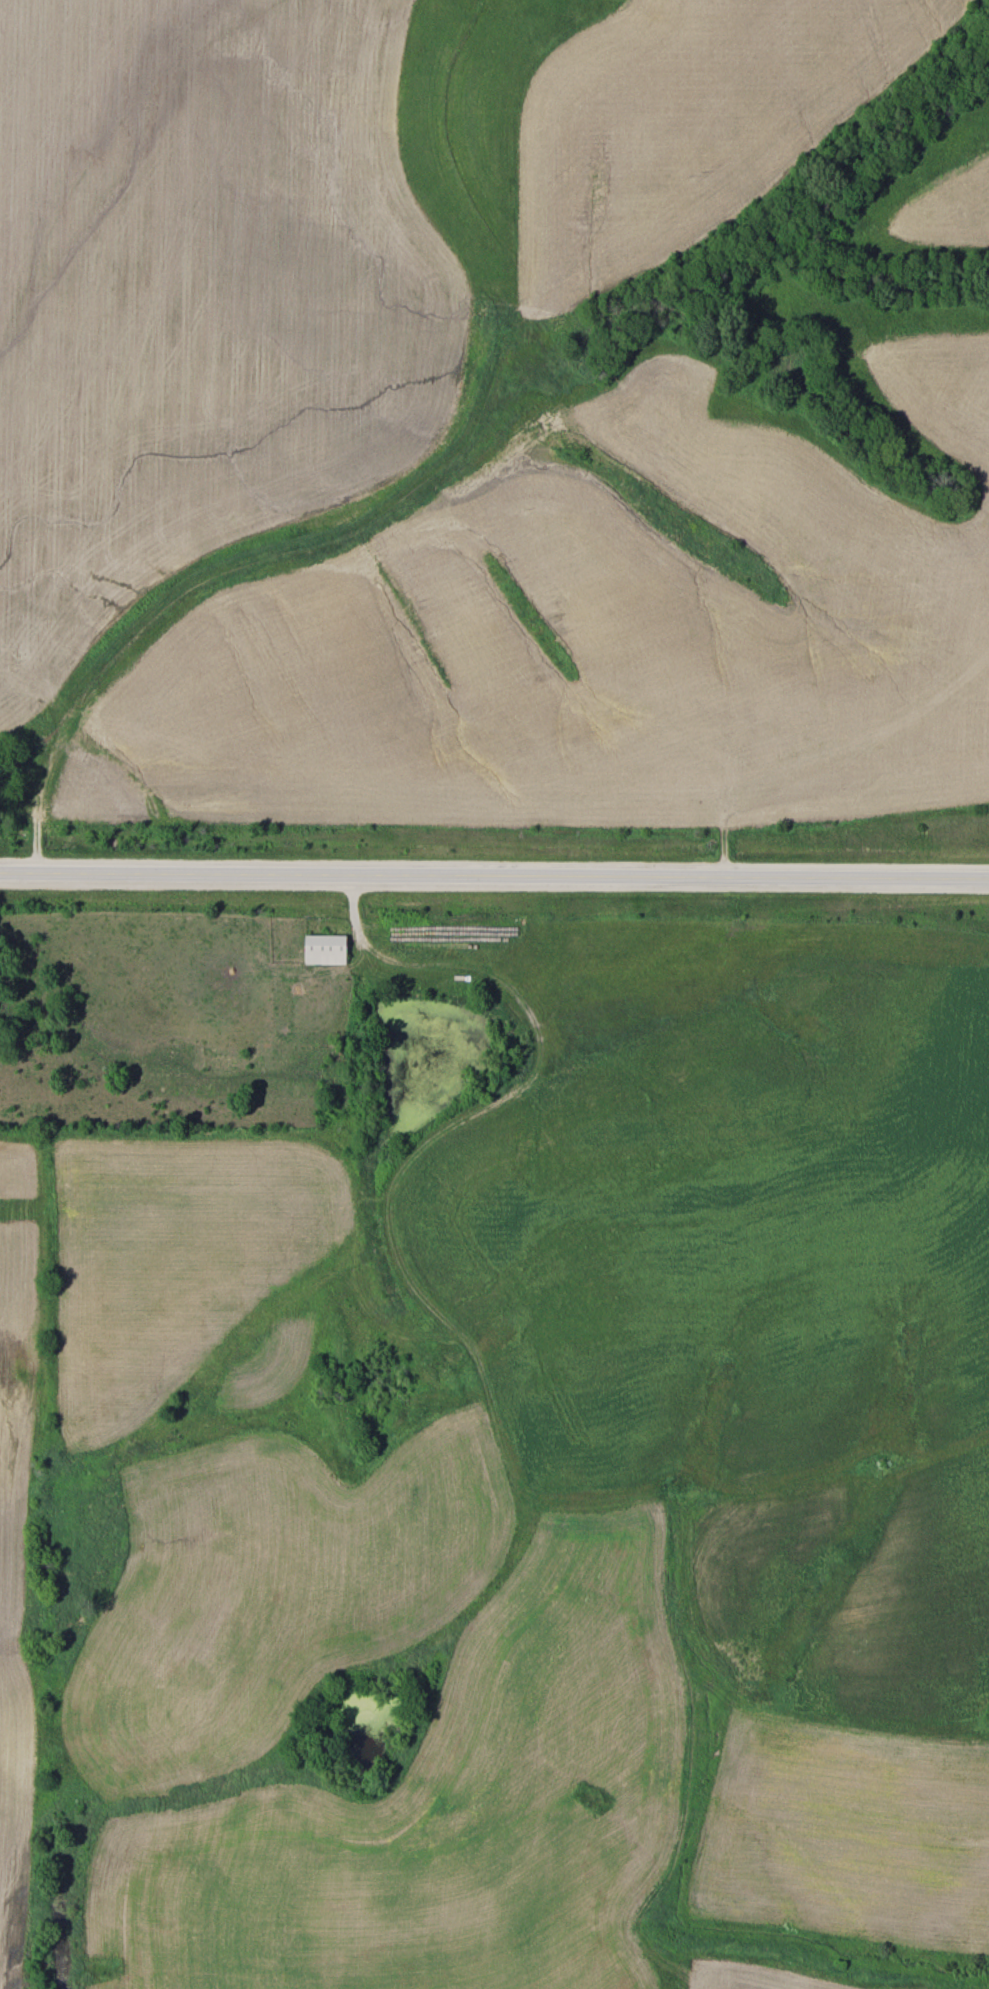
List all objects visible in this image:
road: (494, 874)
building: (322, 950)

